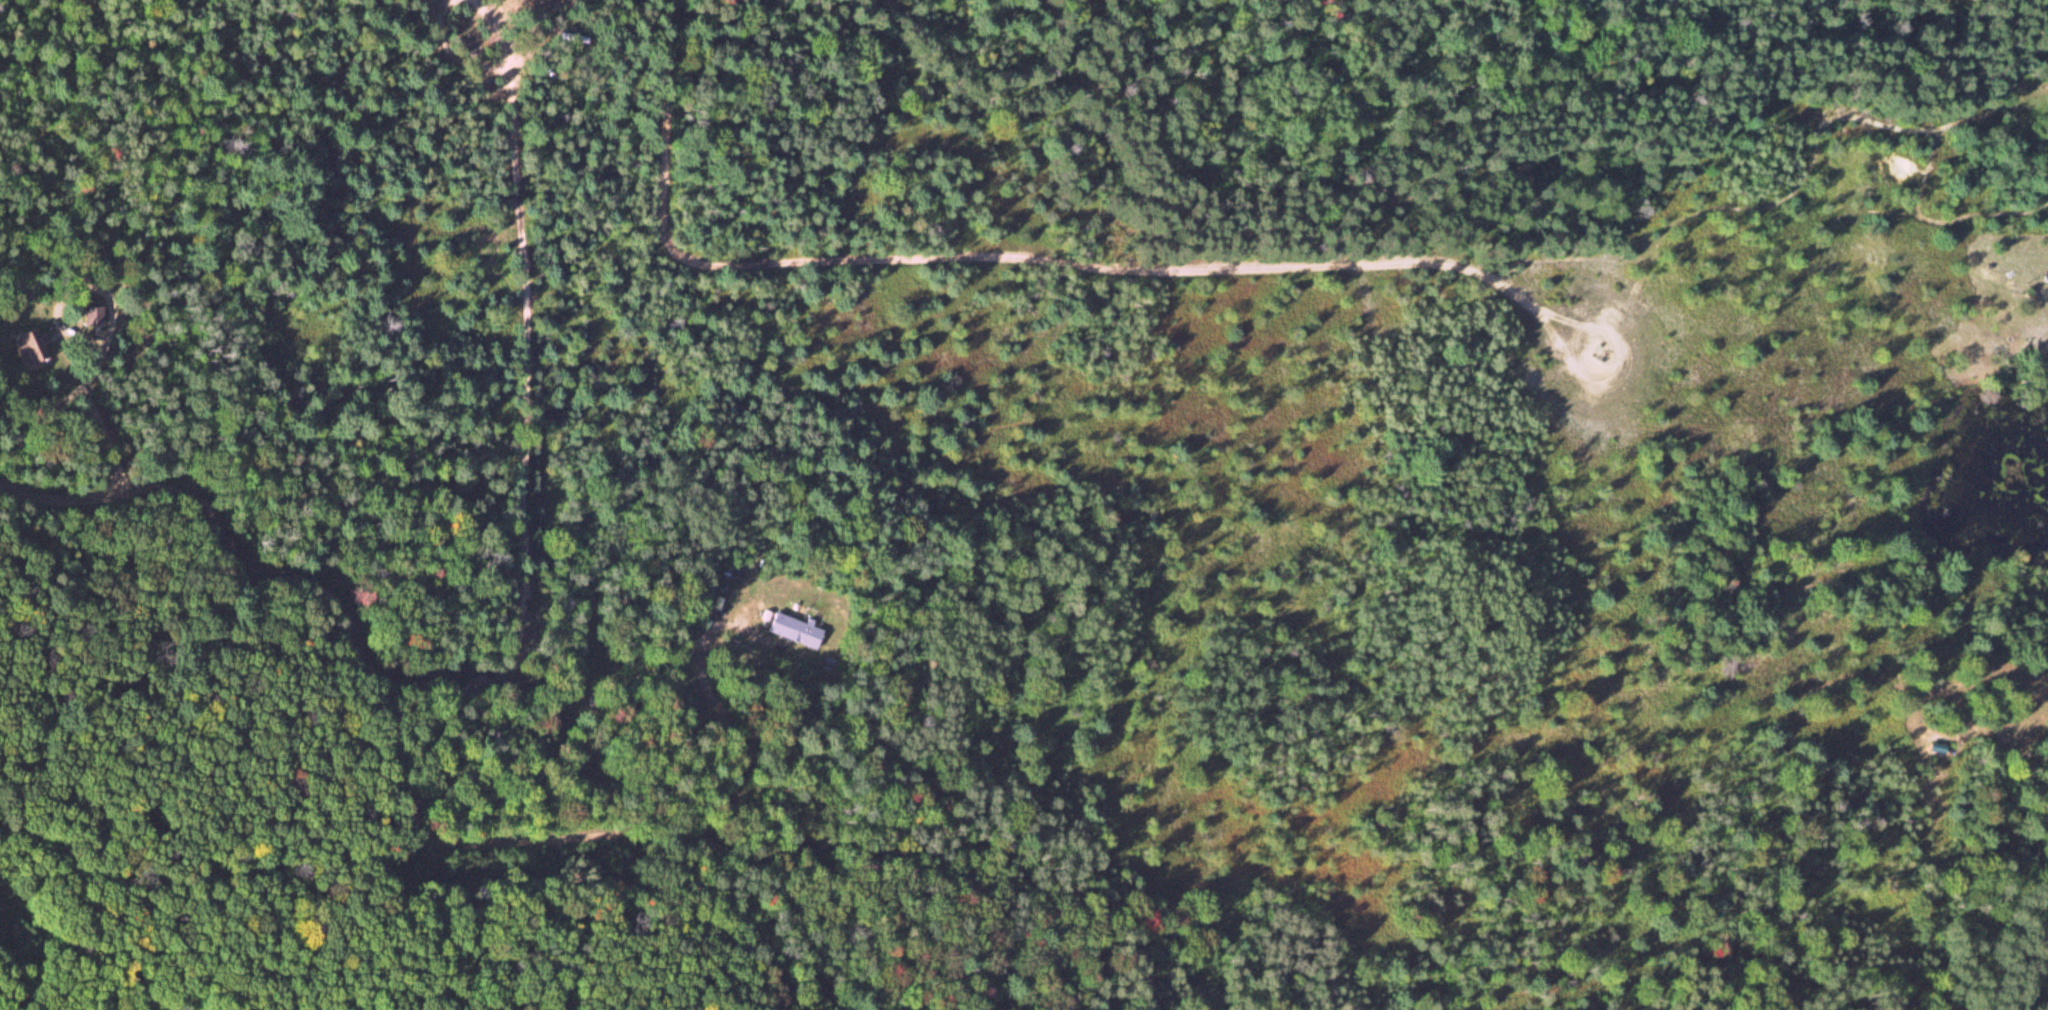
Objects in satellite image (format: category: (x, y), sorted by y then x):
road: (1006, 256)
building: (94, 314)
building: (32, 346)
road: (1623, 374)
road: (523, 420)
building: (793, 629)
road: (395, 792)

